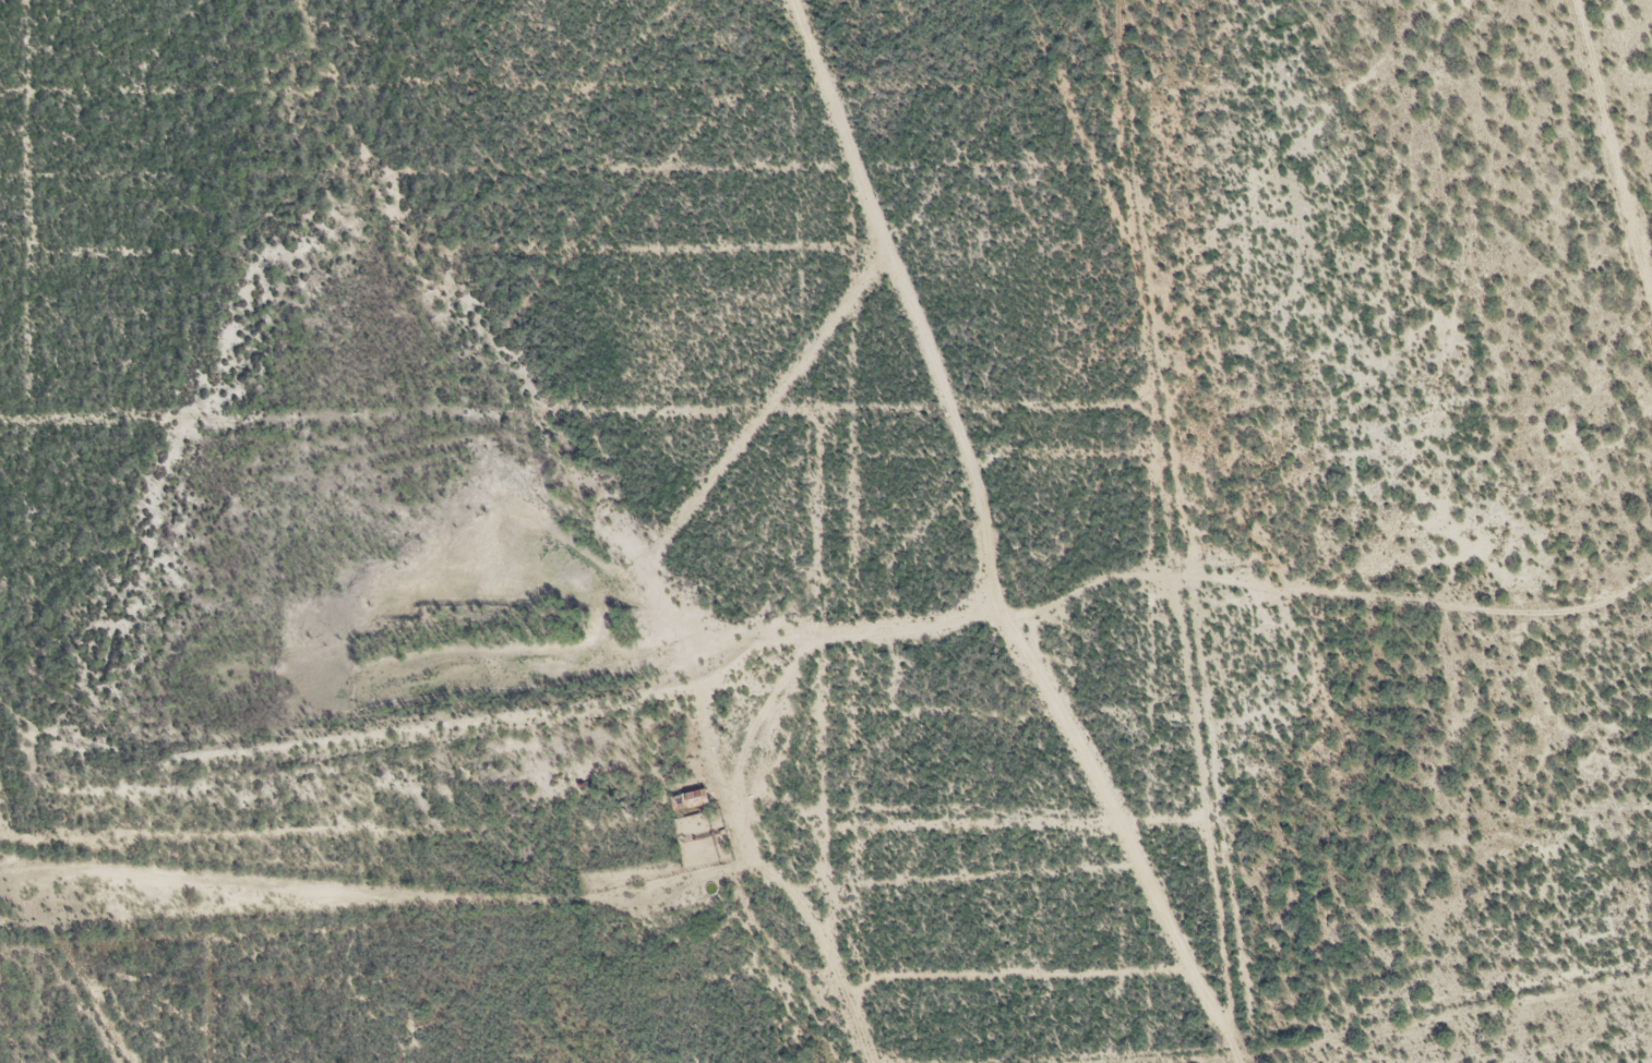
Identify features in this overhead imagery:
road: (925, 304)
road: (1136, 580)

